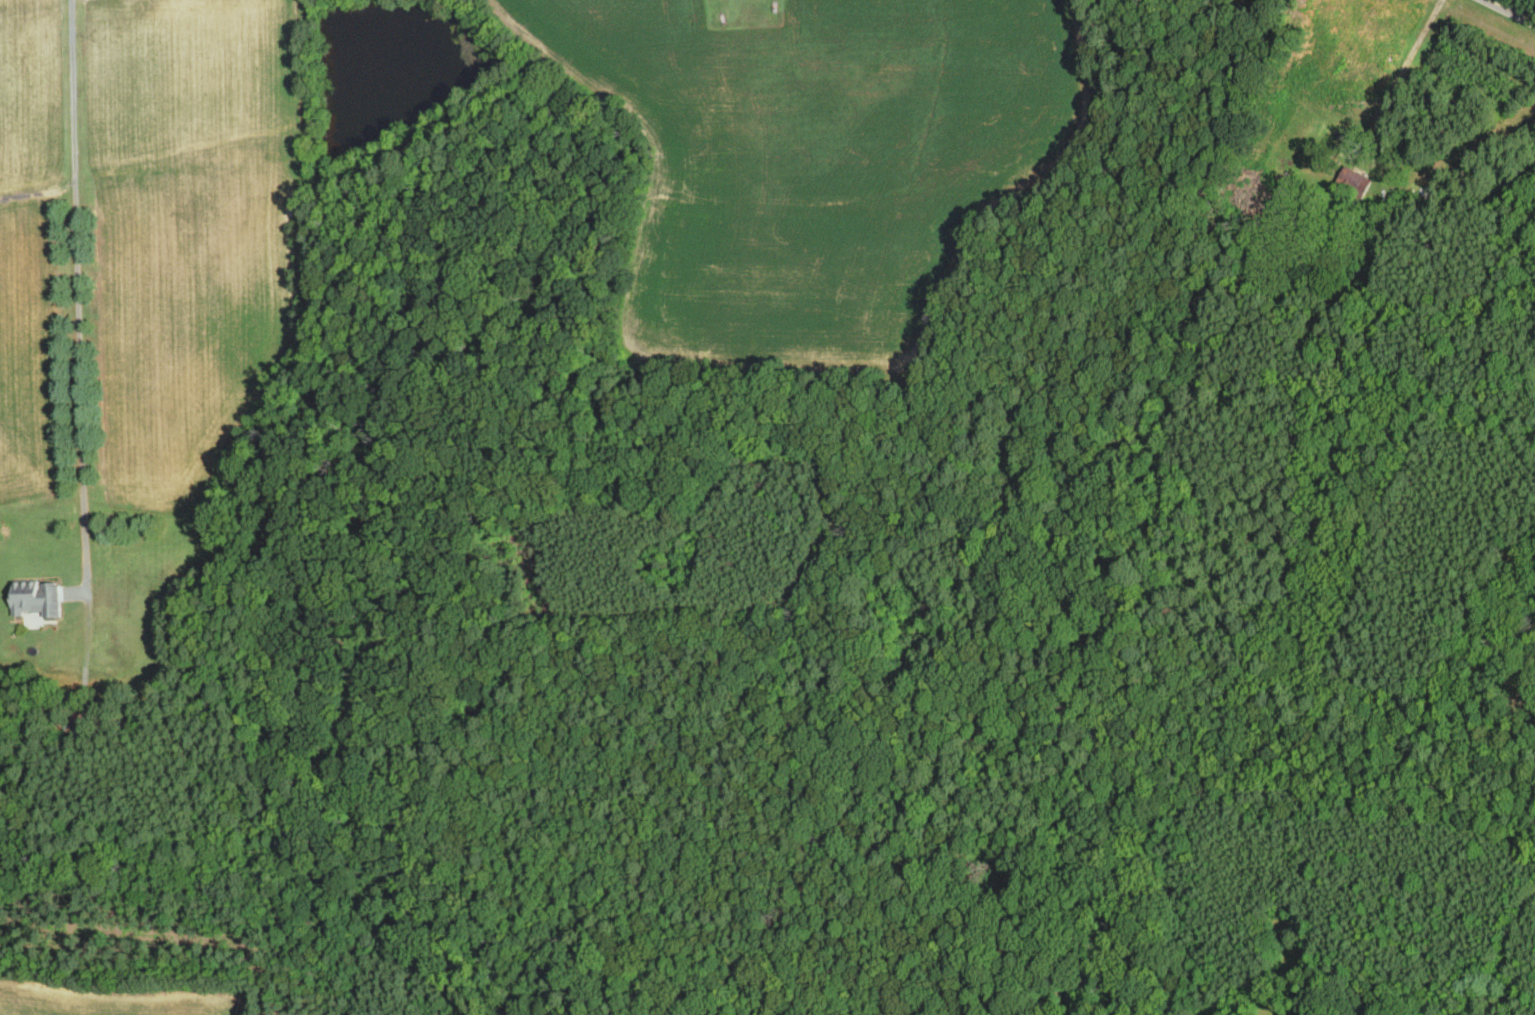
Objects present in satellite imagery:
road: (1511, 11)
building: (1356, 182)
road: (80, 294)
building: (38, 598)
building: (79, 732)
building: (1509, 999)

